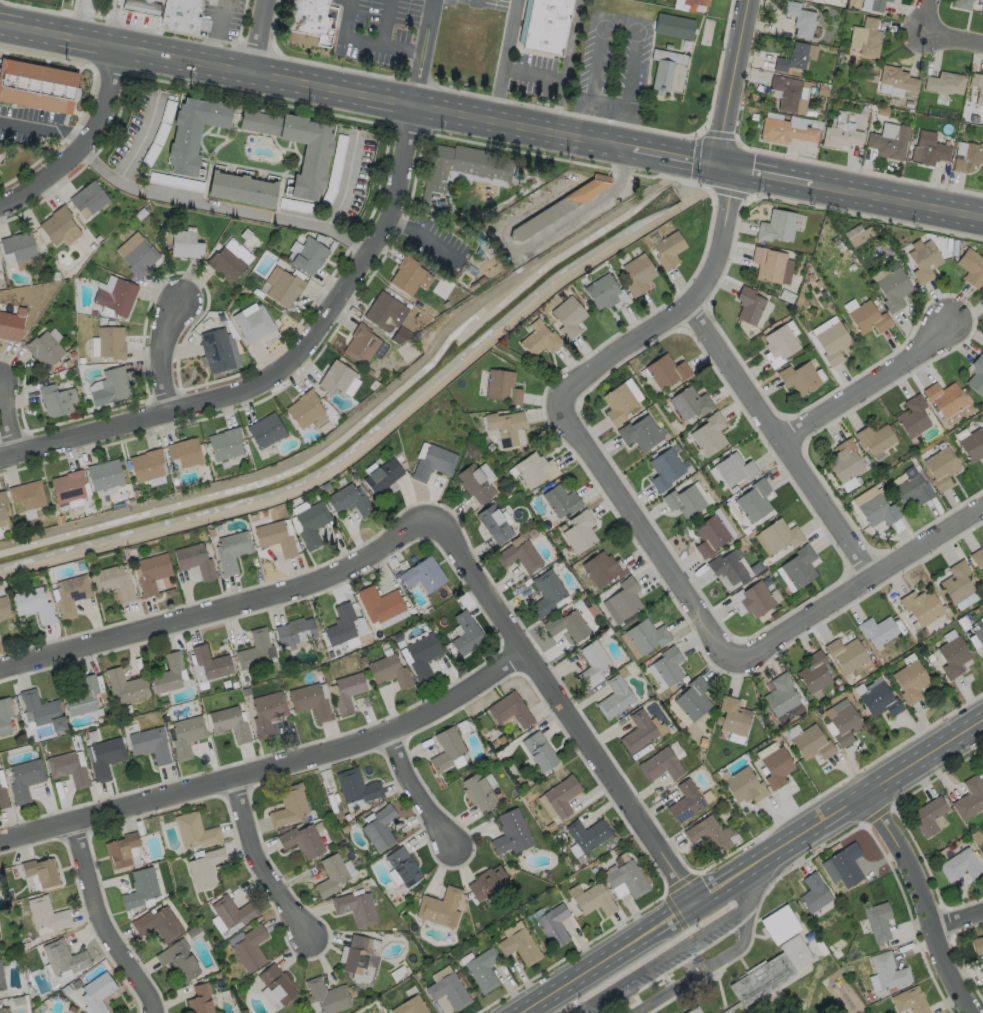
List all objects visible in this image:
building: (696, 2)
building: (960, 4)
building: (873, 5)
road: (926, 14)
building: (180, 16)
building: (800, 19)
building: (310, 20)
road: (384, 21)
building: (547, 25)
building: (673, 26)
road: (623, 27)
road: (214, 32)
road: (953, 35)
road: (264, 37)
building: (865, 38)
road: (366, 39)
road: (420, 52)
building: (792, 58)
road: (503, 60)
building: (667, 71)
road: (737, 81)
building: (895, 82)
building: (945, 83)
building: (36, 85)
road: (316, 86)
building: (976, 87)
building: (789, 94)
road: (46, 126)
building: (193, 131)
building: (783, 132)
building: (839, 138)
road: (139, 141)
building: (888, 144)
road: (82, 146)
building: (316, 148)
building: (930, 149)
road: (678, 155)
building: (966, 157)
traffic signals: (723, 163)
building: (461, 168)
road: (767, 172)
road: (344, 184)
building: (241, 188)
building: (87, 197)
road: (897, 200)
building: (557, 206)
road: (223, 207)
road: (584, 209)
building: (775, 225)
building: (58, 226)
building: (856, 233)
road: (424, 235)
building: (184, 244)
building: (18, 245)
building: (667, 249)
building: (136, 253)
building: (307, 255)
building: (228, 260)
building: (923, 260)
building: (24, 263)
building: (767, 263)
building: (971, 267)
building: (637, 273)
building: (408, 275)
building: (284, 288)
building: (893, 288)
building: (599, 289)
building: (114, 294)
building: (747, 304)
building: (383, 310)
road: (692, 315)
building: (567, 316)
building: (867, 318)
building: (252, 323)
building: (10, 325)
building: (538, 337)
building: (109, 342)
building: (360, 342)
building: (832, 342)
building: (777, 344)
building: (43, 348)
building: (215, 349)
building: (982, 349)
road: (161, 350)
building: (982, 351)
building: (665, 370)
road: (287, 371)
building: (976, 374)
building: (335, 376)
building: (799, 377)
road: (874, 383)
building: (110, 386)
building: (501, 386)
building: (944, 398)
building: (55, 399)
building: (688, 401)
building: (617, 402)
building: (305, 409)
road: (10, 416)
building: (912, 416)
building: (504, 425)
building: (265, 429)
building: (639, 431)
building: (708, 433)
building: (874, 438)
building: (224, 443)
building: (972, 444)
road: (785, 445)
building: (184, 451)
building: (844, 460)
building: (432, 461)
building: (147, 466)
building: (664, 467)
building: (733, 467)
building: (940, 467)
building: (531, 468)
building: (103, 473)
building: (381, 474)
building: (473, 482)
building: (848, 484)
building: (67, 485)
building: (911, 489)
building: (26, 493)
building: (347, 499)
building: (683, 499)
building: (753, 499)
building: (560, 500)
building: (2, 505)
building: (873, 506)
building: (310, 522)
building: (492, 522)
road: (647, 530)
building: (577, 531)
building: (709, 534)
building: (779, 534)
building: (274, 536)
building: (231, 550)
building: (517, 555)
building: (977, 557)
building: (194, 559)
building: (798, 565)
building: (727, 566)
building: (597, 568)
building: (151, 572)
building: (423, 573)
building: (113, 581)
building: (955, 582)
road: (860, 586)
building: (544, 592)
building: (70, 593)
building: (622, 597)
building: (755, 598)
building: (32, 603)
building: (379, 603)
building: (3, 607)
building: (923, 608)
road: (224, 612)
building: (340, 624)
building: (564, 624)
building: (876, 629)
building: (294, 630)
building: (465, 634)
building: (644, 635)
building: (978, 635)
building: (253, 649)
building: (421, 654)
building: (845, 654)
building: (952, 656)
building: (590, 662)
building: (208, 664)
building: (667, 666)
building: (388, 671)
building: (813, 672)
building: (167, 673)
building: (909, 681)
building: (123, 686)
building: (346, 691)
building: (779, 695)
building: (82, 697)
building: (613, 697)
building: (691, 699)
building: (876, 699)
building: (310, 701)
road: (564, 709)
building: (42, 710)
building: (267, 711)
building: (508, 711)
building: (4, 715)
building: (731, 716)
building: (230, 723)
building: (842, 723)
building: (636, 732)
building: (185, 736)
building: (809, 741)
building: (149, 744)
building: (445, 748)
building: (537, 751)
building: (104, 757)
building: (659, 765)
building: (775, 766)
road: (271, 767)
building: (67, 769)
building: (981, 770)
building: (24, 779)
building: (740, 784)
building: (356, 788)
building: (477, 791)
road: (420, 795)
building: (560, 795)
building: (3, 799)
building: (970, 799)
building: (686, 800)
building: (288, 805)
building: (927, 816)
building: (379, 827)
building: (195, 830)
building: (510, 832)
building: (706, 833)
building: (586, 834)
building: (301, 840)
building: (120, 849)
road: (750, 864)
building: (845, 865)
building: (402, 866)
building: (960, 866)
building: (204, 867)
road: (262, 867)
building: (39, 870)
building: (330, 874)
building: (625, 879)
building: (485, 882)
building: (140, 887)
building: (812, 893)
building: (593, 900)
road: (920, 902)
building: (439, 906)
building: (354, 908)
building: (231, 911)
building: (45, 913)
road: (956, 917)
building: (877, 921)
road: (104, 922)
building: (157, 923)
building: (778, 924)
building: (551, 925)
building: (977, 944)
building: (518, 946)
building: (248, 948)
road: (687, 949)
building: (0, 950)
building: (794, 951)
building: (63, 956)
building: (359, 958)
building: (181, 959)
parking lot: (660, 966)
road: (704, 968)
building: (481, 970)
building: (884, 972)
building: (2, 977)
building: (763, 980)
building: (275, 983)
building: (447, 990)
building: (97, 992)
building: (325, 995)
building: (199, 999)
building: (909, 1000)
building: (409, 1005)
building: (5, 1010)
building: (695, 1011)

